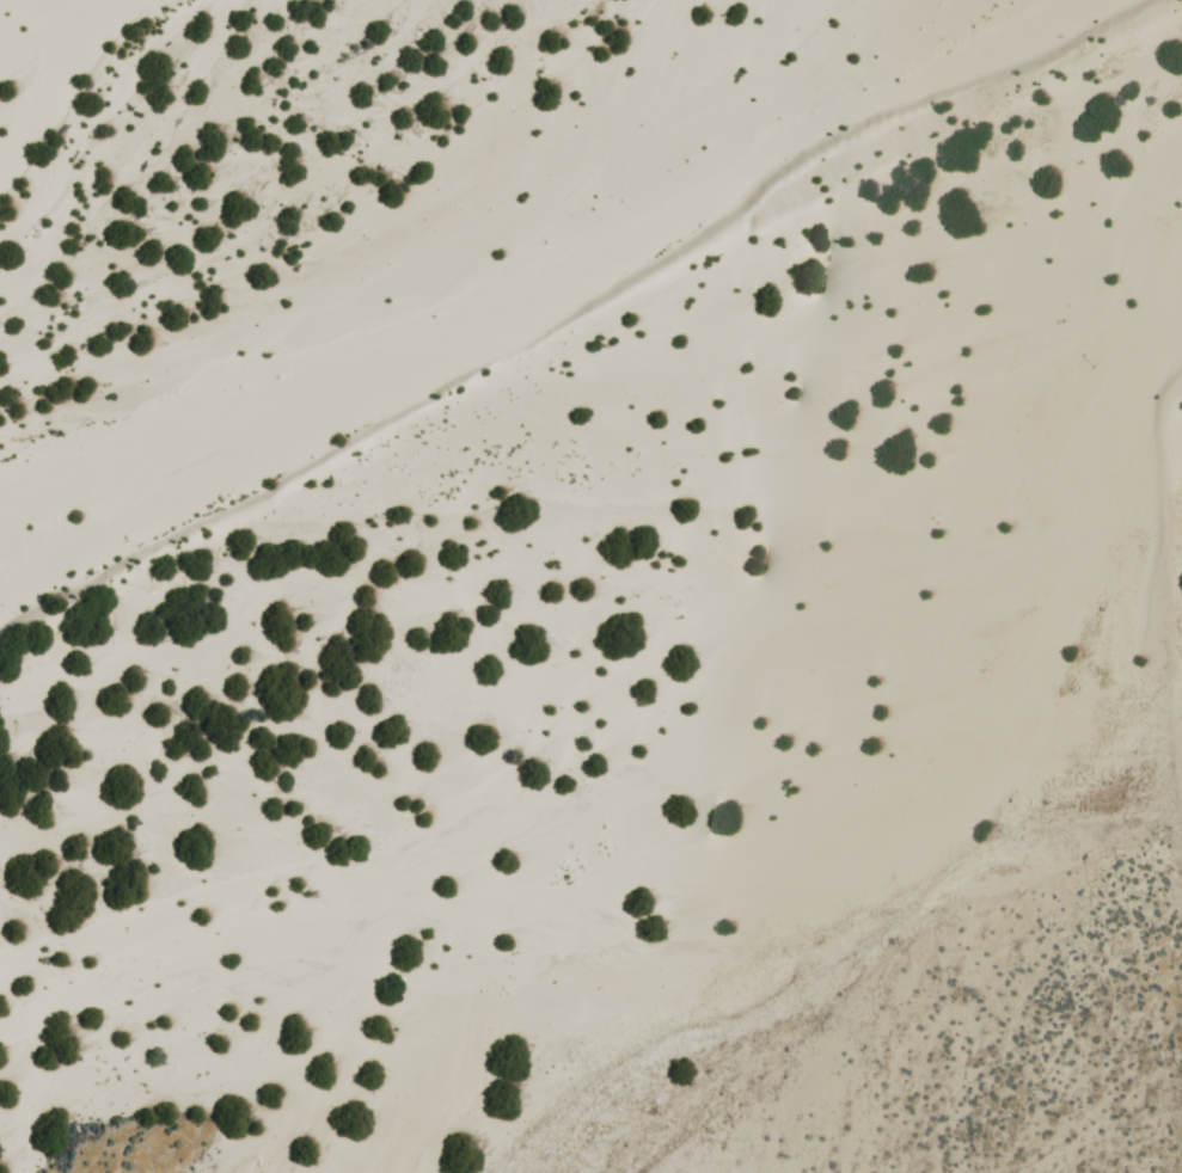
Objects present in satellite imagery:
river: (549, 455)

